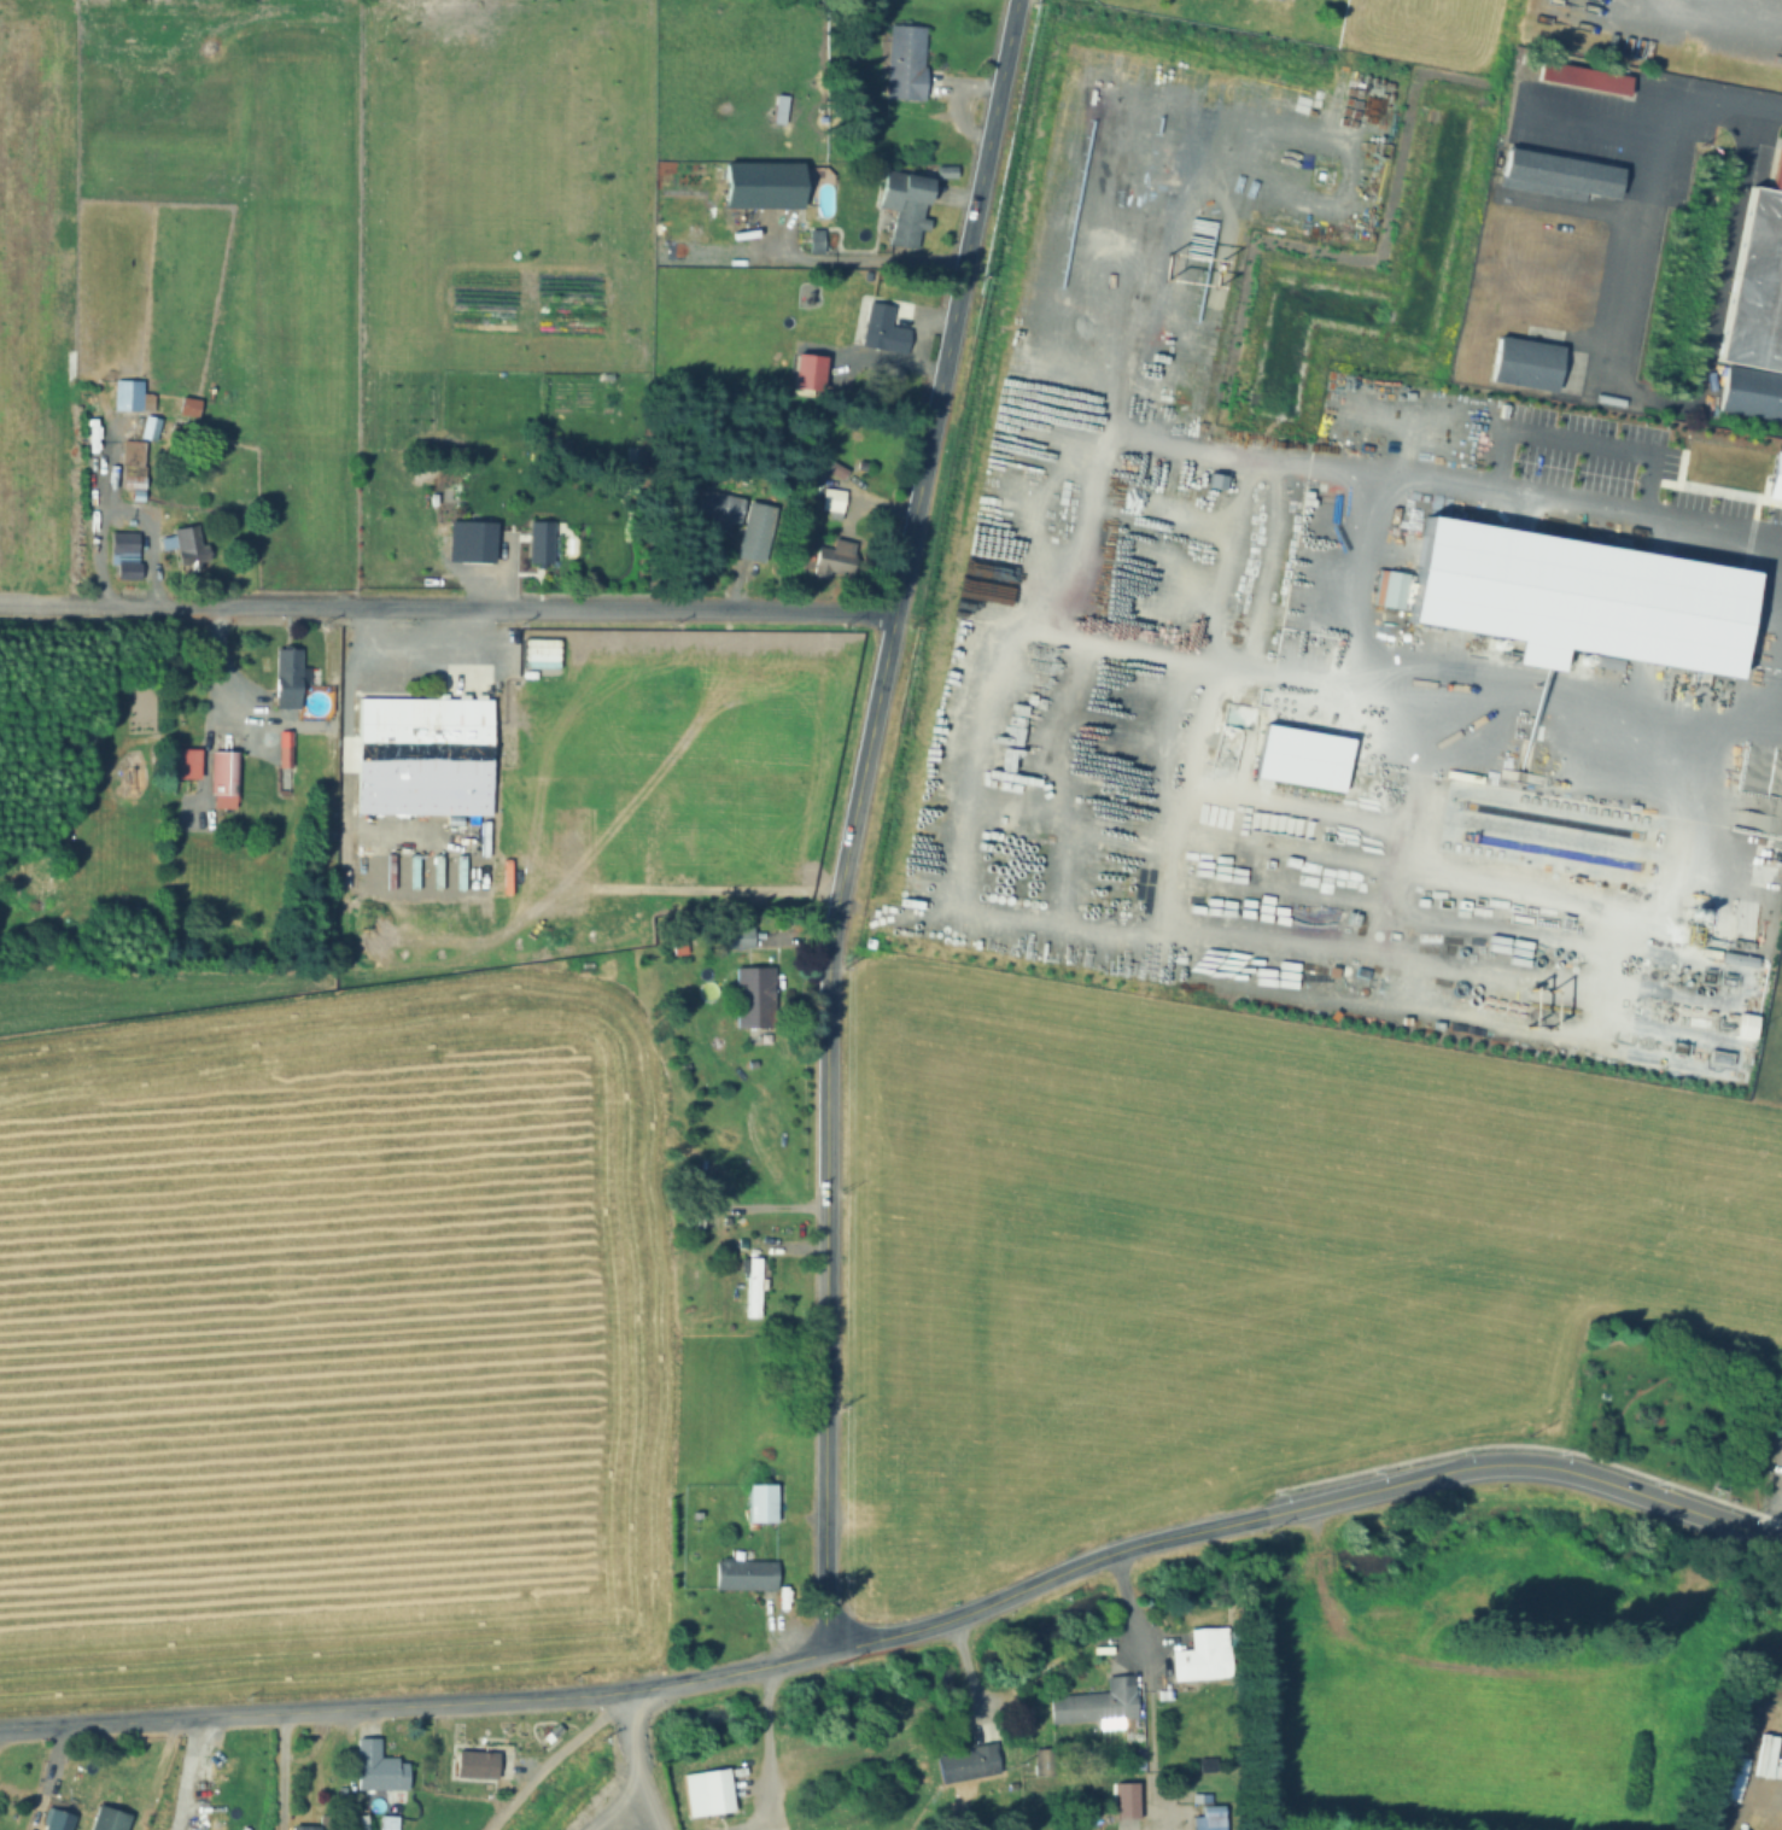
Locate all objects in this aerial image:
building: (1276, 0)
building: (1283, 0)
railway: (1772, 6)
railway: (1749, 12)
railway: (1758, 12)
railway: (1713, 22)
building: (901, 62)
building: (1578, 77)
road: (1768, 105)
building: (1555, 170)
building: (755, 186)
building: (899, 205)
crop: (232, 236)
building: (810, 240)
building: (1754, 279)
building: (880, 328)
building: (674, 346)
building: (1519, 362)
road: (1606, 385)
building: (124, 396)
building: (185, 407)
building: (147, 426)
building: (130, 455)
building: (1775, 476)
building: (129, 483)
building: (829, 501)
building: (707, 504)
road: (1561, 508)
building: (752, 532)
building: (473, 543)
building: (536, 544)
building: (186, 548)
building: (122, 549)
building: (831, 557)
building: (125, 572)
road: (446, 608)
building: (1572, 610)
building: (284, 678)
road: (1472, 684)
building: (281, 747)
building: (180, 756)
building: (420, 758)
building: (1317, 765)
building: (222, 773)
road: (851, 818)
building: (735, 939)
building: (750, 996)
crop: (291, 1227)
building: (750, 1285)
road: (1305, 1303)
road: (1704, 1366)
park: (1677, 1405)
road: (1225, 1408)
road: (1518, 1461)
building: (1777, 1468)
building: (758, 1504)
building: (927, 1505)
building: (883, 1555)
building: (743, 1574)
road: (1127, 1600)
building: (1199, 1654)
road: (636, 1689)
building: (1092, 1701)
road: (637, 1736)
road: (308, 1742)
road: (550, 1753)
road: (756, 1753)
building: (478, 1764)
building: (963, 1764)
building: (1204, 1764)
building: (374, 1766)
road: (279, 1770)
road: (186, 1772)
building: (703, 1790)
road: (618, 1806)
road: (653, 1806)
building: (53, 1819)
building: (104, 1819)
building: (1206, 1819)
building: (6, 1822)
building: (386, 1822)
building: (361, 1823)
building: (300, 1828)

